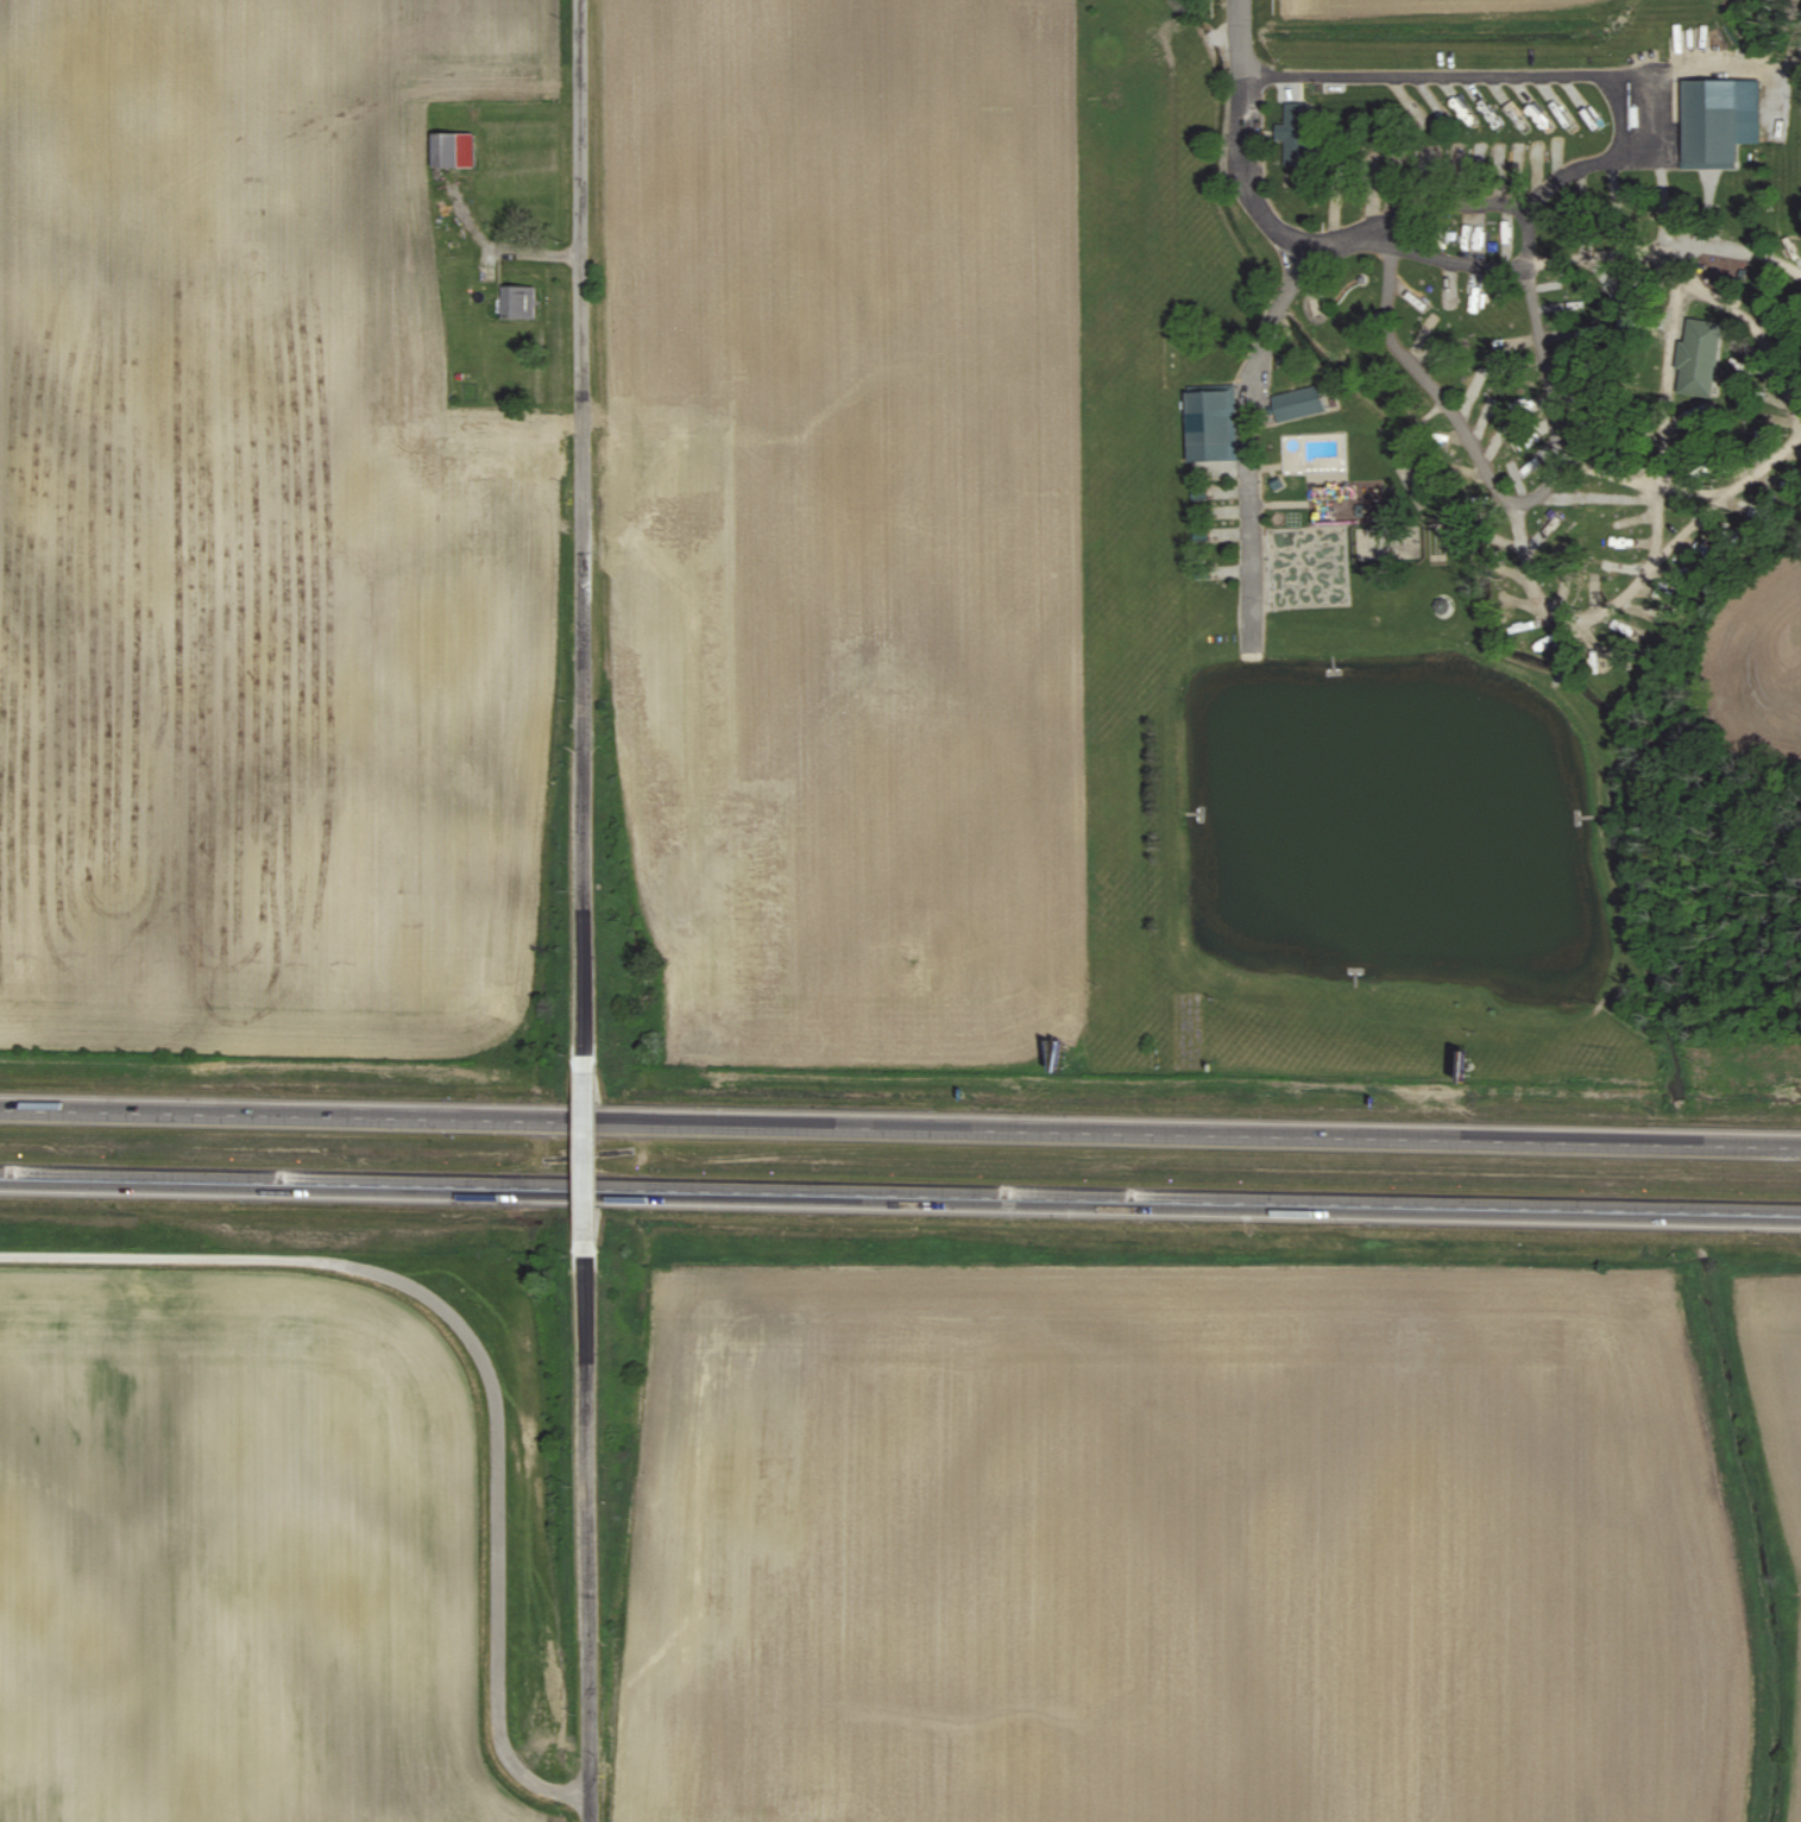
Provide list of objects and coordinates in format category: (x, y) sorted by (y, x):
road: (1240, 36)
building: (1723, 118)
road: (1651, 122)
building: (1298, 132)
building: (454, 151)
road: (524, 251)
building: (519, 303)
building: (1702, 349)
road: (1259, 354)
building: (1301, 401)
building: (1214, 423)
road: (1663, 459)
road: (1501, 493)
road: (584, 538)
road: (900, 1128)
road: (588, 1153)
road: (900, 1194)
road: (477, 1349)
road: (588, 1525)

